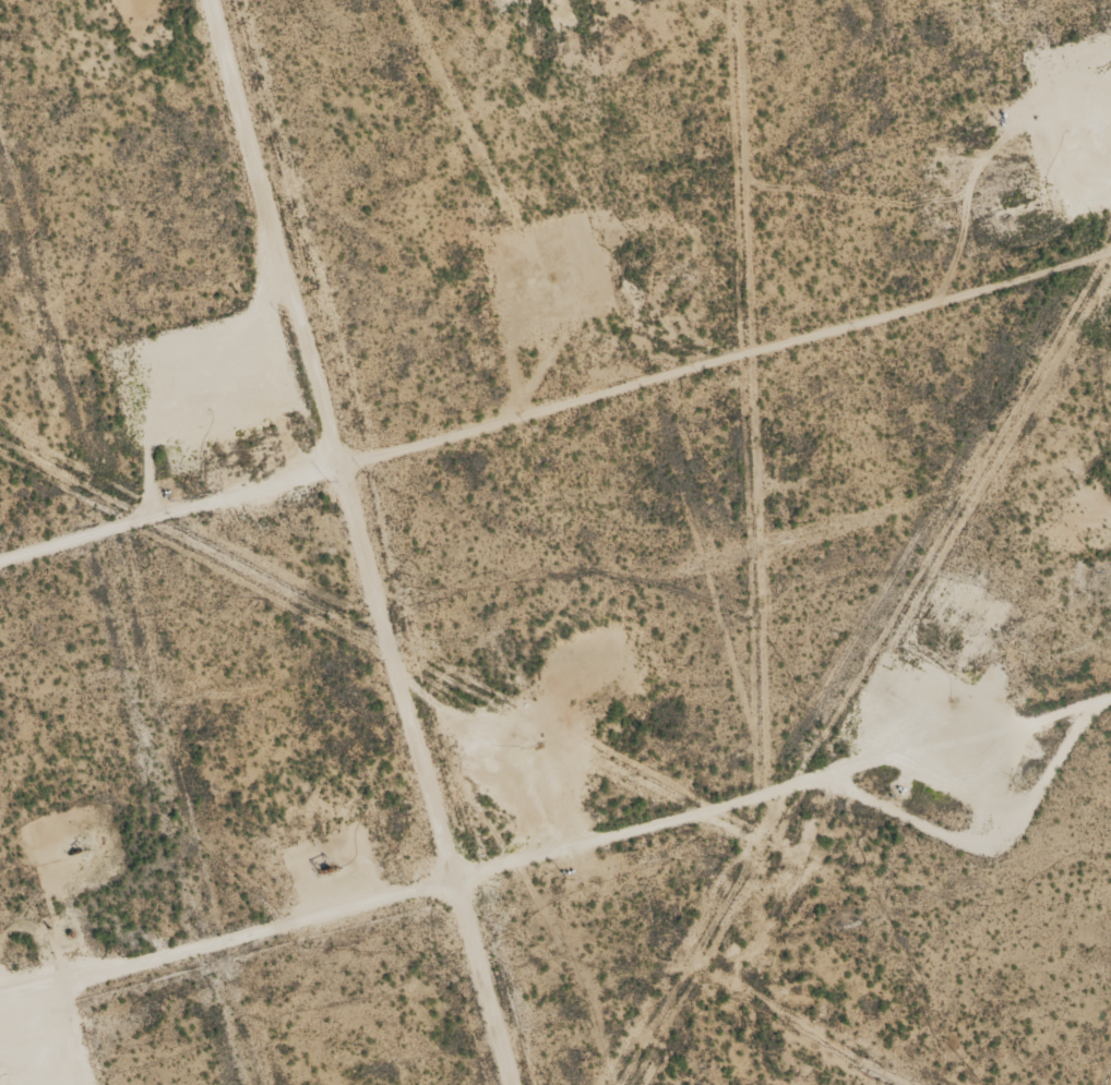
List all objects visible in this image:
road: (695, 378)
road: (292, 544)
road: (557, 869)

